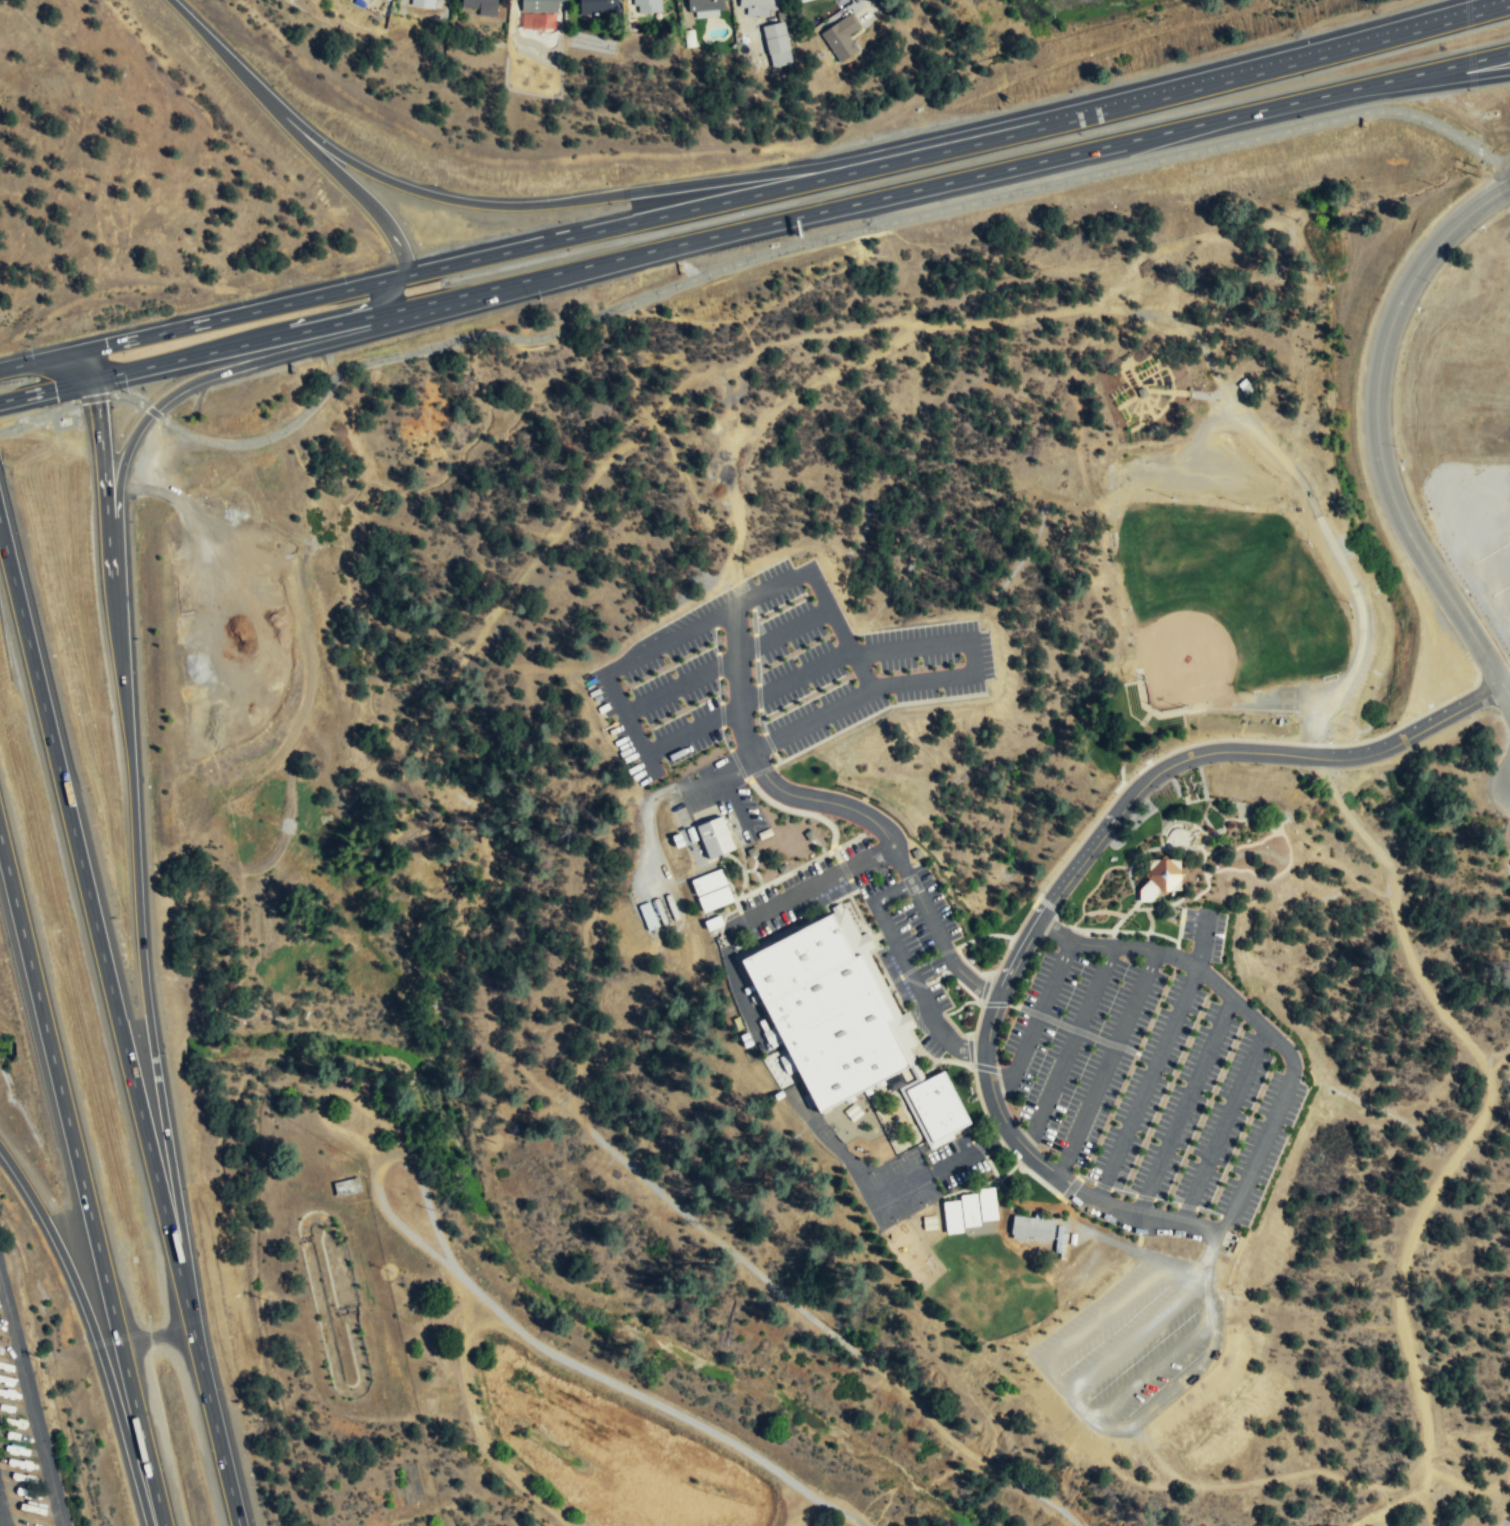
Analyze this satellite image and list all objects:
building: (799, 0)
building: (803, 0)
building: (364, 1)
building: (426, 4)
building: (480, 6)
building: (539, 6)
building: (758, 6)
building: (646, 7)
building: (598, 8)
building: (704, 8)
road: (1432, 25)
road: (1432, 30)
building: (840, 38)
building: (776, 44)
building: (591, 45)
road: (1216, 83)
road: (1425, 83)
road: (1304, 99)
road: (802, 189)
road: (357, 190)
road: (1480, 202)
road: (498, 209)
road: (818, 212)
road: (821, 247)
road: (465, 264)
road: (458, 300)
road: (202, 322)
road: (188, 357)
road: (225, 371)
road: (110, 397)
road: (152, 411)
road: (39, 416)
road: (1387, 468)
road: (1474, 494)
road: (1445, 526)
parking lot: (1472, 534)
road: (1484, 534)
road: (1493, 570)
road: (821, 599)
park: (1224, 602)
road: (1500, 602)
road: (850, 649)
road: (652, 650)
road: (970, 653)
parking lot: (773, 672)
road: (757, 682)
road: (680, 683)
road: (1506, 684)
road: (721, 705)
road: (874, 713)
road: (672, 740)
road: (777, 757)
road: (761, 771)
road: (746, 778)
fountain: (1187, 785)
road: (1195, 800)
road: (1223, 800)
road: (775, 803)
road: (838, 804)
road: (1207, 805)
road: (1227, 818)
road: (1178, 820)
road: (1200, 822)
road: (1192, 827)
road: (833, 832)
road: (136, 837)
building: (713, 837)
road: (1162, 845)
road: (1180, 848)
road: (1129, 865)
road: (793, 870)
road: (847, 875)
building: (1161, 878)
road: (1097, 881)
road: (811, 886)
building: (710, 890)
road: (1199, 892)
road: (1048, 903)
road: (1095, 911)
road: (1127, 912)
road: (819, 915)
road: (1149, 920)
road: (1180, 925)
road: (746, 928)
road: (96, 929)
road: (1113, 931)
road: (983, 936)
road: (741, 945)
road: (1015, 954)
road: (1003, 956)
road: (921, 962)
road: (1185, 962)
road: (910, 971)
road: (887, 976)
road: (737, 992)
building: (827, 1012)
road: (1036, 1020)
building: (744, 1036)
building: (747, 1042)
road: (1069, 1047)
road: (940, 1055)
road: (945, 1058)
road: (1154, 1062)
road: (1106, 1063)
road: (928, 1069)
parking lot: (1147, 1080)
road: (976, 1089)
road: (61, 1091)
building: (778, 1095)
road: (1184, 1105)
building: (938, 1106)
road: (914, 1113)
road: (1223, 1125)
road: (997, 1137)
road: (974, 1144)
road: (994, 1150)
road: (1258, 1154)
parking lot: (959, 1160)
road: (386, 1164)
road: (1008, 1172)
road: (1031, 1174)
road: (996, 1176)
road: (969, 1187)
road: (1010, 1199)
building: (987, 1204)
building: (969, 1210)
road: (1028, 1215)
building: (953, 1217)
building: (1032, 1227)
road: (68, 1234)
road: (1134, 1329)
parking lot: (1132, 1347)
road: (1152, 1367)
road: (31, 1403)
road: (655, 1404)
road: (1083, 1407)
road: (215, 1431)
road: (137, 1438)
road: (1, 1517)

